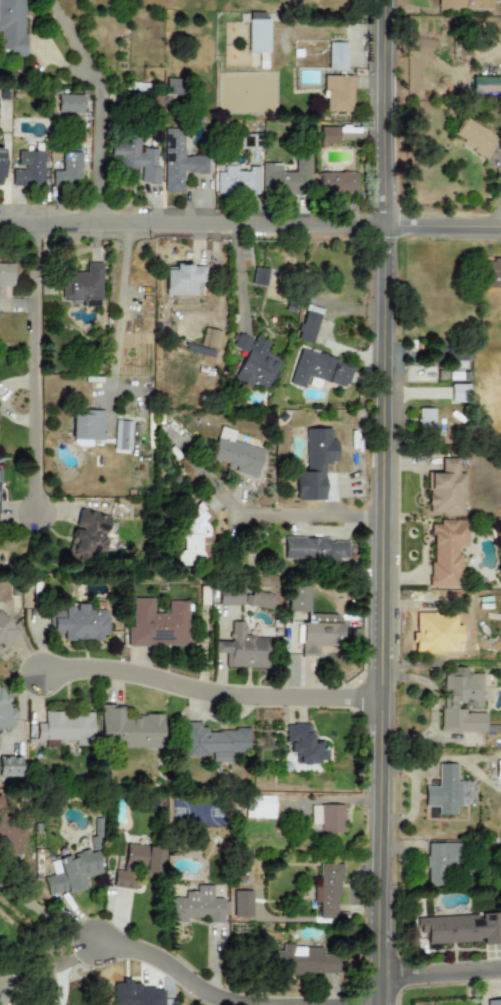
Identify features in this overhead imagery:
building: (465, 4)
building: (14, 27)
building: (336, 56)
building: (486, 86)
building: (172, 87)
building: (338, 94)
building: (69, 104)
road: (97, 108)
building: (328, 136)
building: (473, 137)
building: (0, 152)
building: (136, 159)
building: (177, 161)
building: (28, 169)
building: (69, 169)
building: (289, 178)
building: (237, 181)
building: (337, 183)
road: (250, 229)
building: (492, 274)
building: (6, 275)
building: (259, 276)
road: (237, 278)
building: (183, 279)
building: (83, 285)
road: (119, 309)
building: (308, 326)
building: (209, 338)
building: (254, 363)
road: (34, 369)
building: (317, 369)
building: (460, 393)
building: (425, 419)
building: (0, 424)
building: (86, 428)
building: (122, 436)
building: (236, 454)
building: (314, 464)
building: (445, 490)
road: (385, 502)
road: (266, 514)
building: (89, 535)
building: (194, 535)
building: (314, 550)
building: (446, 552)
building: (230, 597)
building: (297, 599)
building: (259, 600)
building: (79, 623)
building: (157, 625)
building: (5, 630)
building: (320, 633)
building: (244, 649)
road: (215, 694)
building: (461, 702)
building: (5, 712)
building: (65, 728)
building: (130, 729)
building: (213, 742)
building: (303, 745)
building: (10, 766)
building: (498, 768)
building: (444, 791)
building: (259, 807)
building: (328, 820)
building: (441, 860)
building: (137, 865)
building: (72, 872)
building: (328, 891)
building: (242, 904)
building: (197, 906)
road: (48, 914)
building: (459, 929)
building: (306, 961)
road: (166, 966)
road: (49, 968)
road: (443, 976)
building: (493, 1002)

